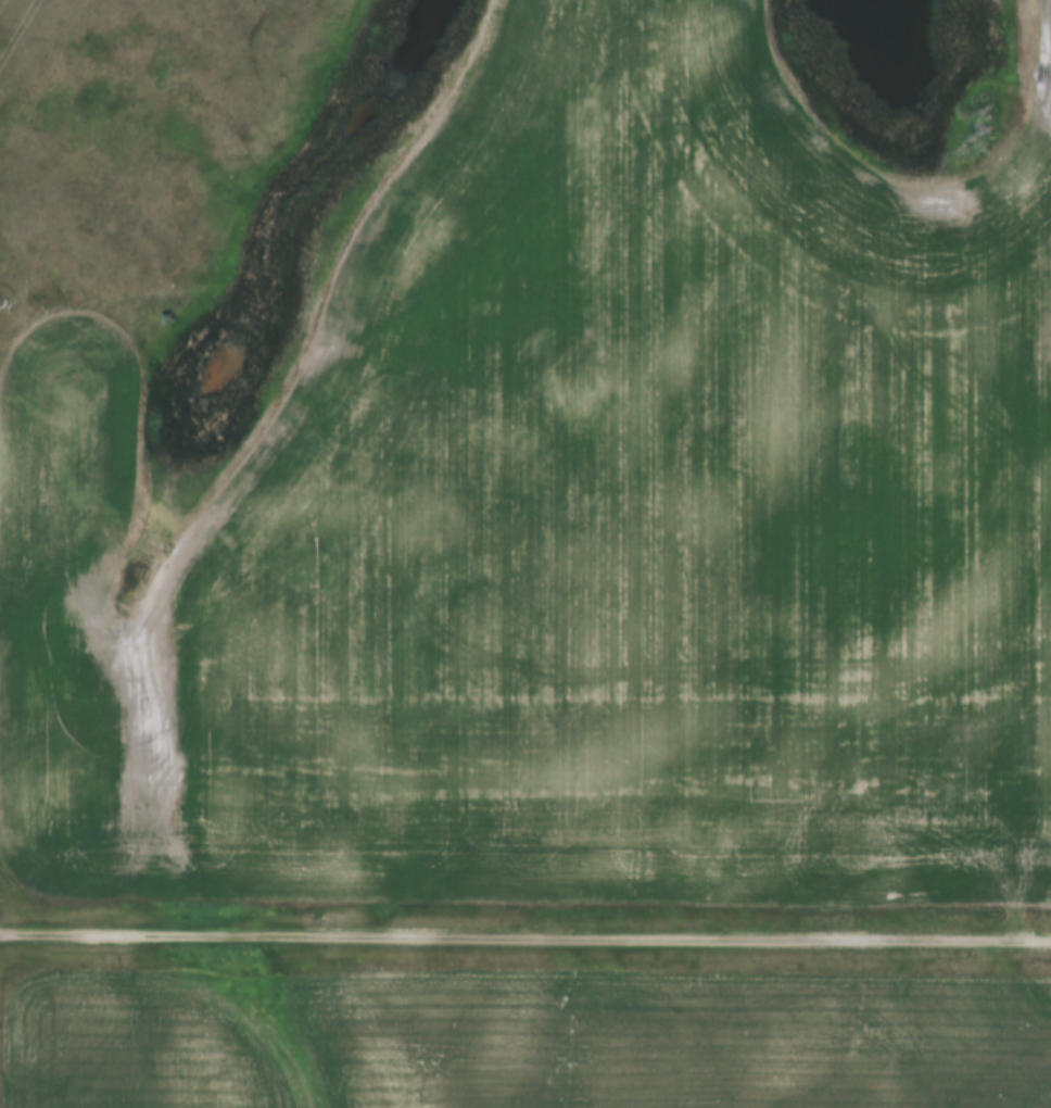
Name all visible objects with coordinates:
road: (525, 933)

